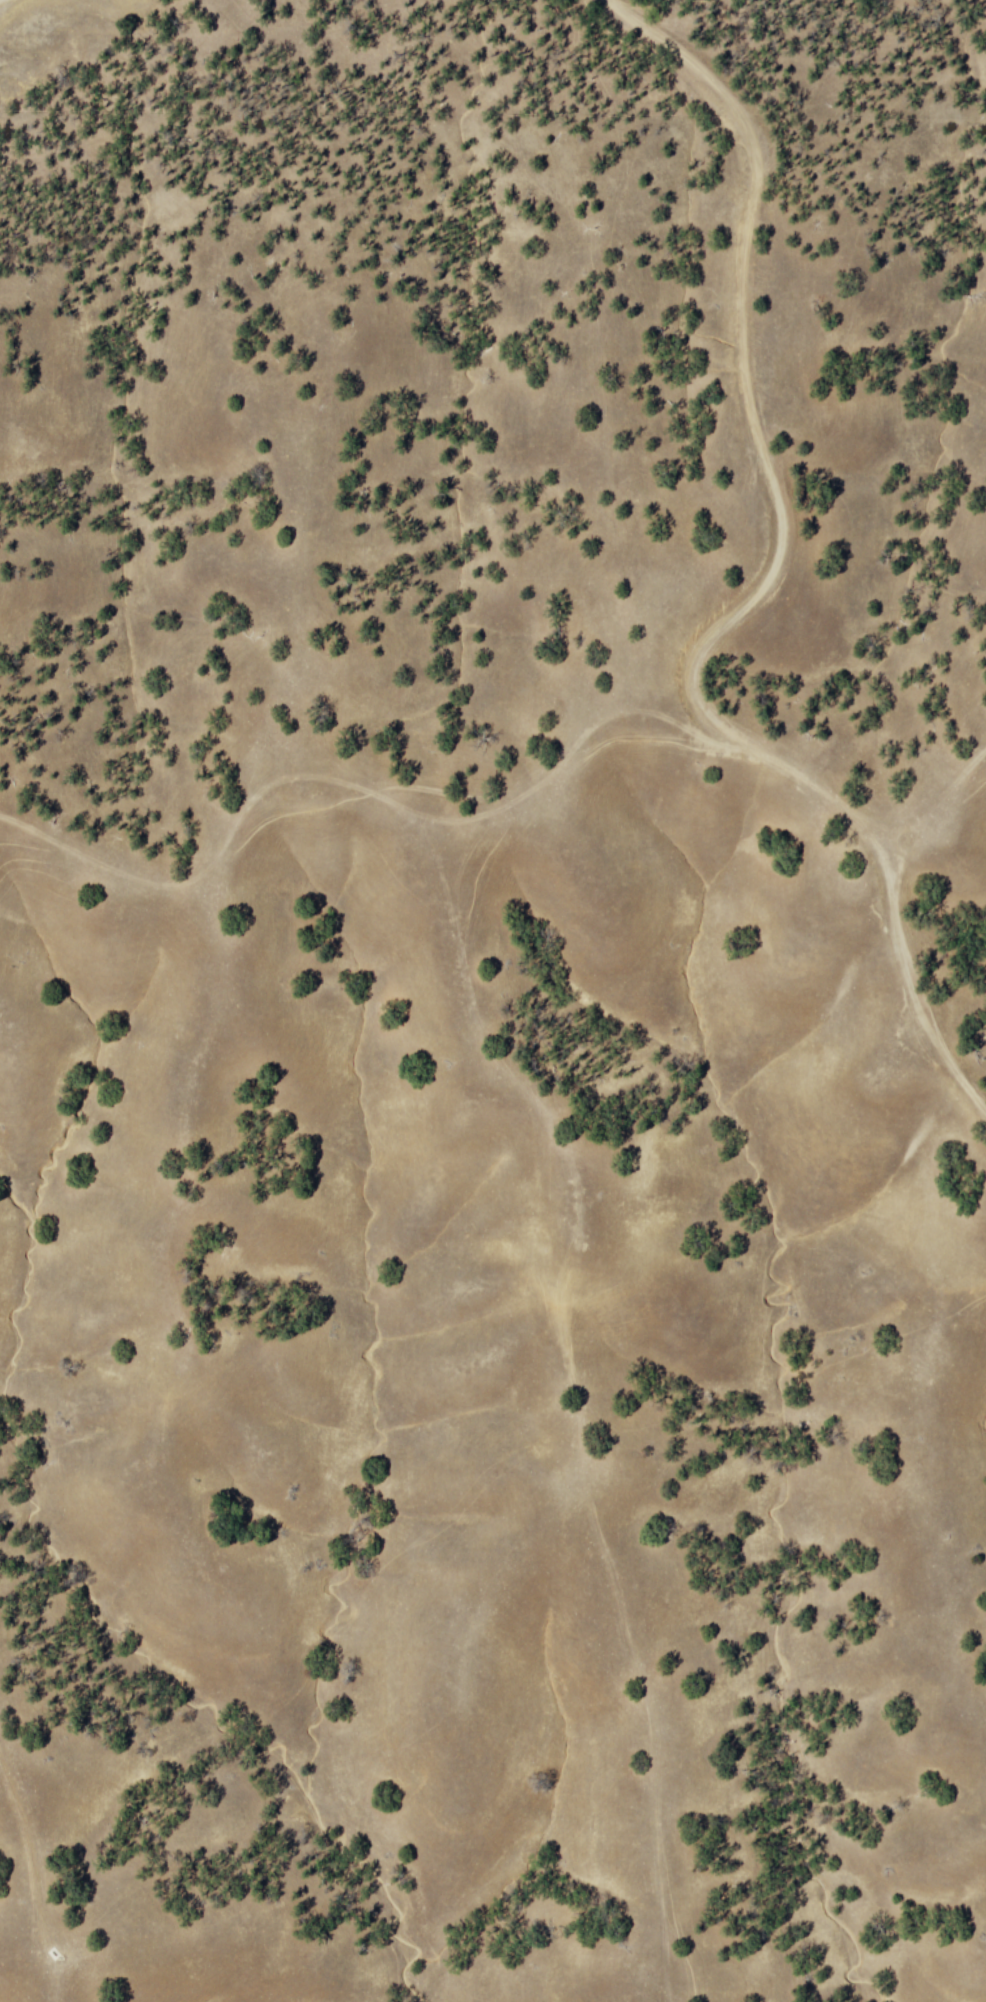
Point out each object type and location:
road: (762, 585)
road: (928, 807)
road: (449, 817)
road: (575, 1394)

